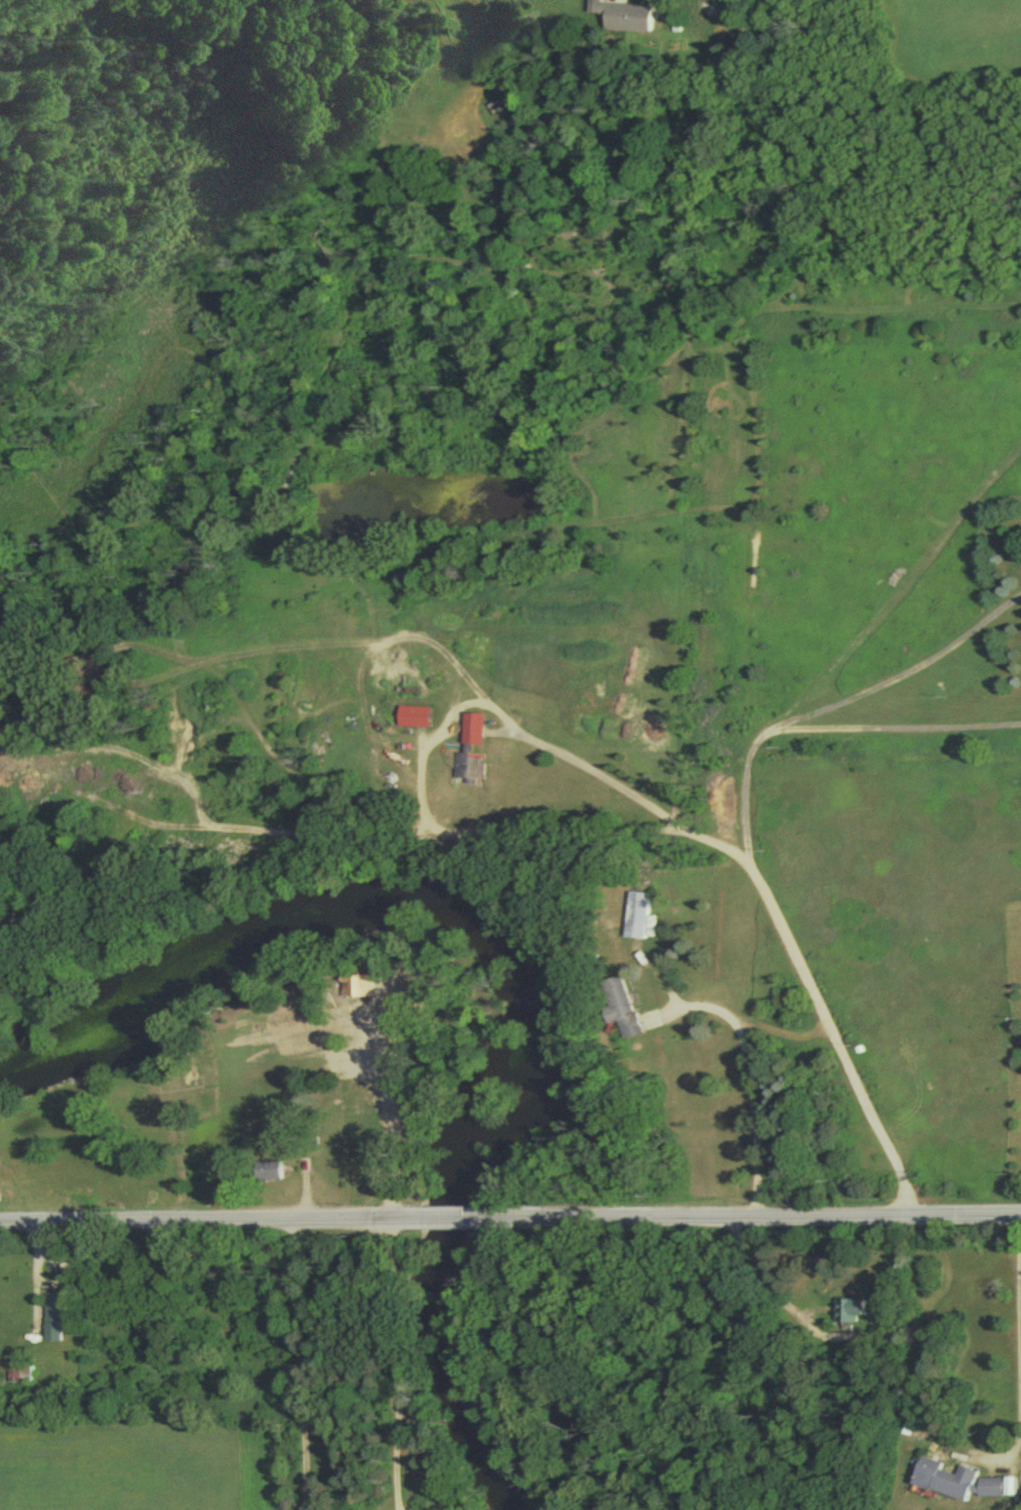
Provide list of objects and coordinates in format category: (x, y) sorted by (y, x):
building: (623, 20)
road: (896, 672)
building: (413, 720)
road: (891, 727)
building: (470, 754)
road: (561, 757)
building: (638, 918)
river: (506, 971)
road: (800, 974)
building: (357, 990)
building: (619, 1003)
road: (743, 1077)
road: (393, 1099)
building: (267, 1175)
road: (761, 1216)
road: (461, 1220)
road: (209, 1221)
road: (29, 1282)
building: (849, 1314)
building: (50, 1322)
road: (1018, 1348)
road: (308, 1365)
road: (389, 1365)
building: (964, 1485)

